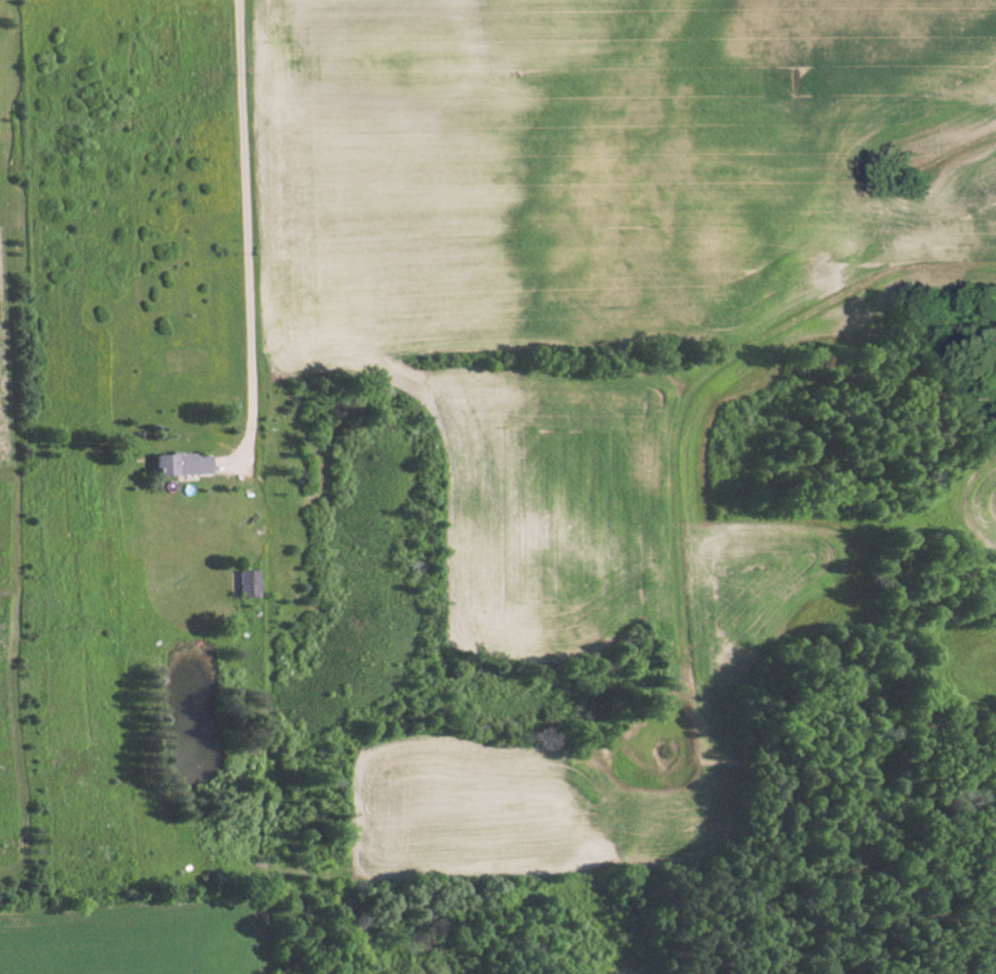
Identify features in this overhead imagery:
building: (182, 463)
building: (247, 582)

